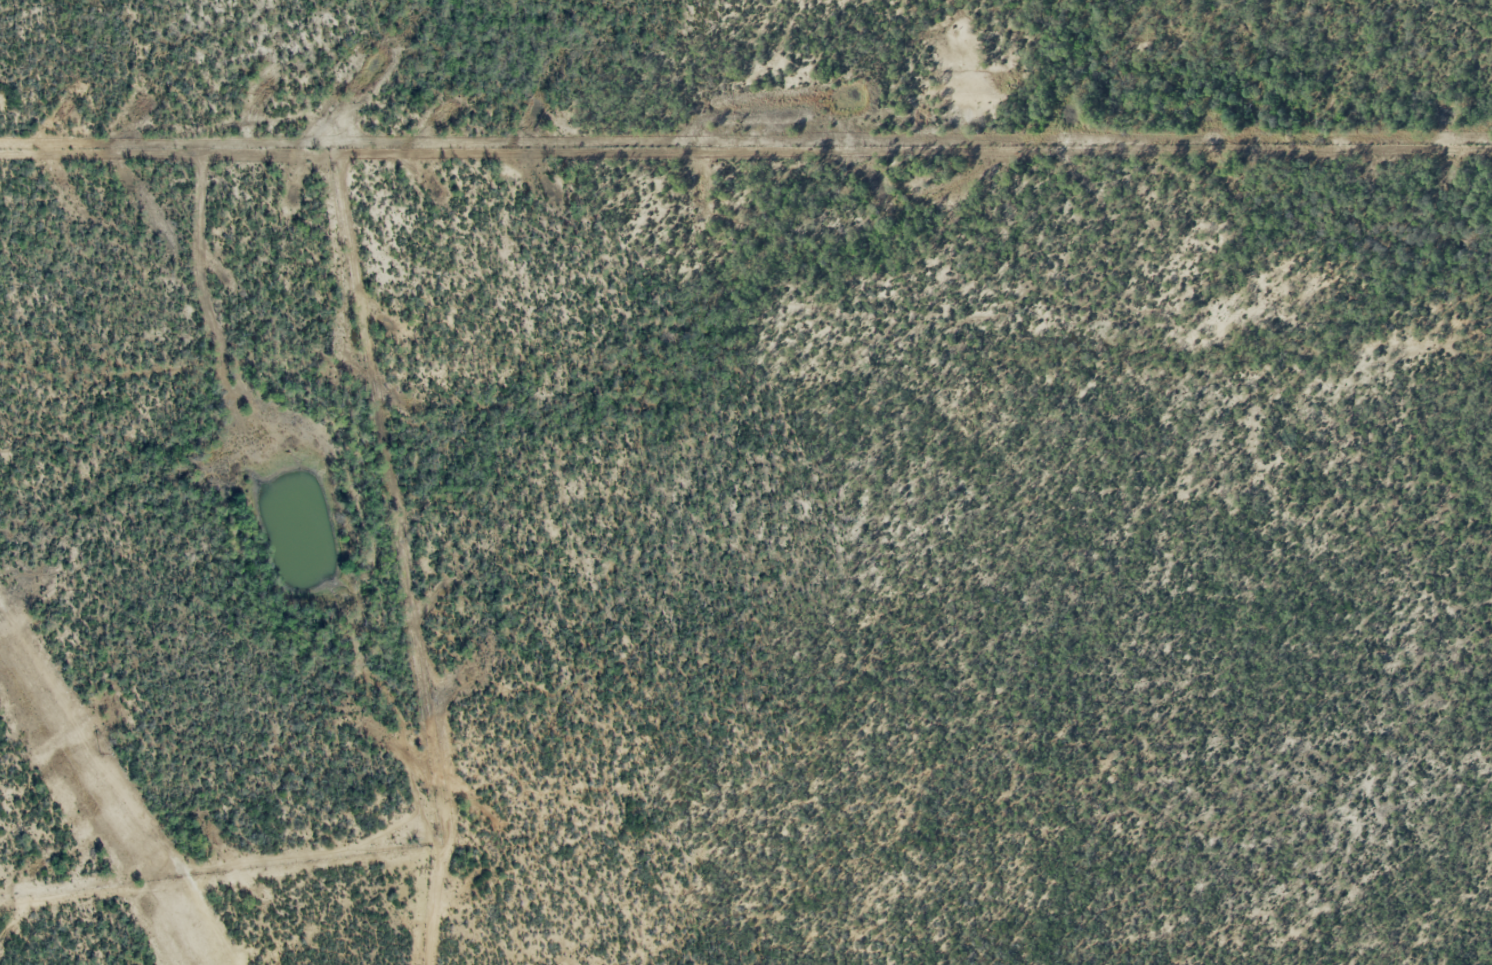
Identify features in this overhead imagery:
power tower: (99, 751)

